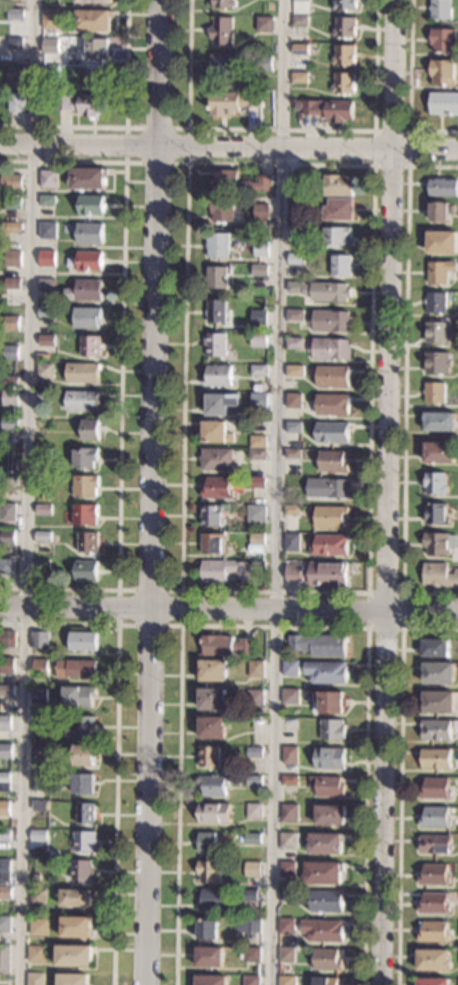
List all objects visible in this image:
building: (300, 0)
building: (91, 2)
building: (223, 3)
building: (343, 4)
building: (441, 9)
building: (15, 15)
building: (50, 19)
building: (299, 20)
building: (92, 21)
building: (264, 24)
building: (344, 27)
building: (219, 31)
building: (443, 40)
building: (14, 43)
building: (49, 46)
building: (96, 50)
building: (299, 50)
building: (344, 55)
building: (263, 63)
building: (225, 65)
building: (50, 72)
building: (443, 72)
building: (14, 74)
building: (93, 78)
building: (299, 78)
building: (343, 83)
road: (409, 89)
building: (231, 102)
building: (14, 103)
building: (444, 103)
building: (82, 104)
building: (330, 110)
road: (124, 125)
road: (281, 128)
road: (229, 148)
road: (185, 163)
road: (408, 165)
building: (86, 179)
building: (48, 180)
building: (238, 182)
building: (292, 183)
building: (337, 185)
building: (13, 187)
building: (442, 187)
building: (46, 200)
building: (11, 203)
building: (90, 206)
building: (295, 207)
building: (222, 209)
building: (338, 209)
building: (441, 211)
building: (261, 212)
building: (10, 228)
building: (46, 231)
building: (297, 233)
building: (89, 234)
building: (337, 236)
building: (442, 242)
building: (218, 245)
building: (261, 249)
building: (12, 258)
building: (46, 259)
building: (295, 259)
building: (89, 261)
building: (341, 265)
building: (260, 270)
building: (441, 271)
building: (218, 277)
building: (11, 283)
building: (46, 284)
building: (322, 290)
building: (84, 291)
building: (437, 303)
building: (217, 312)
building: (46, 313)
building: (295, 315)
building: (87, 317)
building: (260, 317)
building: (331, 321)
building: (11, 323)
building: (439, 332)
building: (259, 337)
building: (46, 341)
building: (295, 343)
building: (215, 344)
building: (91, 346)
building: (330, 349)
building: (11, 353)
building: (42, 357)
building: (438, 362)
building: (259, 370)
building: (295, 370)
building: (44, 371)
building: (83, 373)
road: (121, 373)
building: (218, 376)
building: (333, 376)
road: (405, 381)
building: (11, 382)
building: (435, 392)
building: (44, 397)
building: (9, 398)
building: (82, 401)
building: (259, 401)
building: (294, 401)
building: (221, 403)
building: (332, 404)
building: (440, 422)
building: (9, 423)
building: (293, 427)
building: (90, 430)
building: (217, 433)
building: (333, 433)
building: (258, 442)
building: (292, 453)
building: (440, 453)
building: (258, 454)
building: (43, 455)
building: (86, 457)
building: (217, 459)
building: (333, 461)
building: (8, 467)
building: (9, 480)
building: (258, 482)
building: (435, 483)
building: (86, 486)
building: (217, 488)
building: (329, 488)
road: (25, 492)
road: (152, 492)
road: (275, 492)
road: (386, 492)
building: (43, 510)
building: (292, 510)
building: (8, 512)
building: (86, 514)
building: (256, 514)
building: (436, 514)
building: (212, 516)
building: (330, 517)
building: (43, 537)
building: (8, 538)
building: (55, 538)
building: (88, 543)
building: (257, 543)
building: (291, 543)
building: (439, 543)
building: (212, 544)
building: (329, 545)
building: (41, 564)
building: (7, 566)
building: (258, 566)
building: (86, 571)
building: (223, 571)
building: (319, 574)
building: (438, 575)
road: (180, 591)
road: (368, 593)
road: (228, 608)
road: (271, 626)
road: (402, 628)
building: (7, 639)
building: (39, 640)
building: (82, 641)
building: (318, 644)
building: (225, 646)
building: (435, 648)
building: (7, 666)
building: (40, 667)
building: (77, 669)
building: (255, 669)
building: (290, 669)
building: (212, 671)
building: (325, 672)
building: (438, 674)
building: (7, 690)
building: (38, 696)
building: (290, 696)
building: (79, 697)
building: (254, 697)
building: (212, 699)
building: (329, 702)
building: (439, 702)
building: (59, 716)
building: (251, 717)
building: (5, 723)
building: (82, 727)
building: (211, 728)
building: (332, 730)
building: (436, 730)
building: (70, 746)
road: (115, 746)
building: (6, 751)
building: (38, 752)
building: (254, 753)
building: (84, 755)
building: (289, 755)
building: (209, 757)
building: (329, 758)
building: (436, 759)
road: (399, 779)
building: (289, 780)
building: (253, 781)
building: (4, 782)
building: (40, 782)
building: (84, 784)
building: (213, 785)
building: (327, 786)
building: (435, 788)
building: (40, 806)
building: (4, 808)
building: (253, 811)
building: (85, 813)
building: (214, 813)
building: (288, 813)
building: (328, 815)
building: (435, 818)
building: (5, 835)
building: (37, 836)
building: (252, 838)
building: (84, 841)
building: (288, 841)
building: (206, 843)
building: (324, 844)
building: (435, 844)
building: (252, 869)
building: (287, 869)
building: (81, 870)
building: (209, 871)
building: (4, 873)
building: (322, 873)
building: (434, 875)
building: (38, 877)
building: (5, 893)
building: (37, 896)
building: (249, 896)
building: (287, 896)
building: (75, 898)
building: (213, 899)
building: (325, 901)
building: (434, 903)
building: (4, 924)
building: (248, 926)
building: (38, 927)
building: (76, 927)
building: (286, 927)
building: (207, 930)
building: (321, 931)
building: (432, 931)
building: (36, 954)
building: (252, 954)
building: (286, 955)
building: (74, 956)
building: (209, 957)
building: (5, 959)
building: (326, 959)
building: (433, 960)
building: (35, 979)
building: (73, 979)
building: (210, 980)
building: (251, 980)
building: (286, 981)
building: (324, 981)
building: (432, 982)

